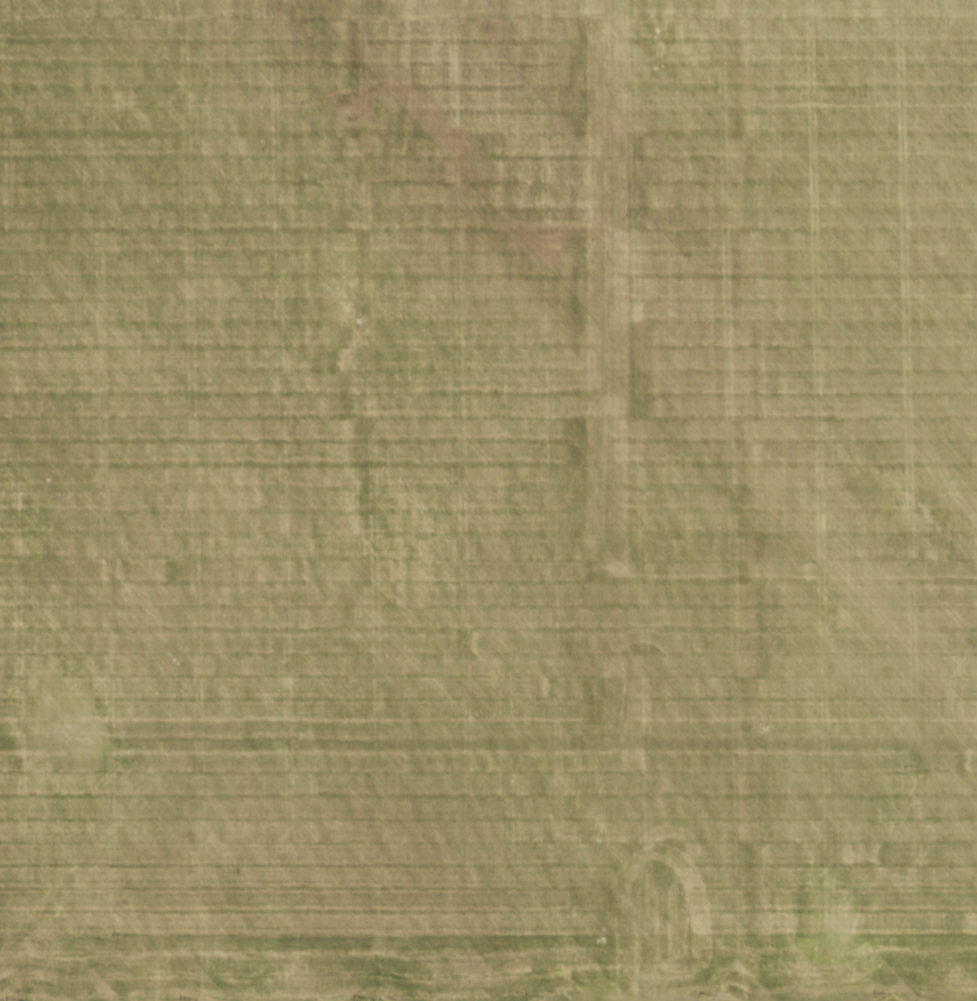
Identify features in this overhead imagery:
crop: (488, 499)

